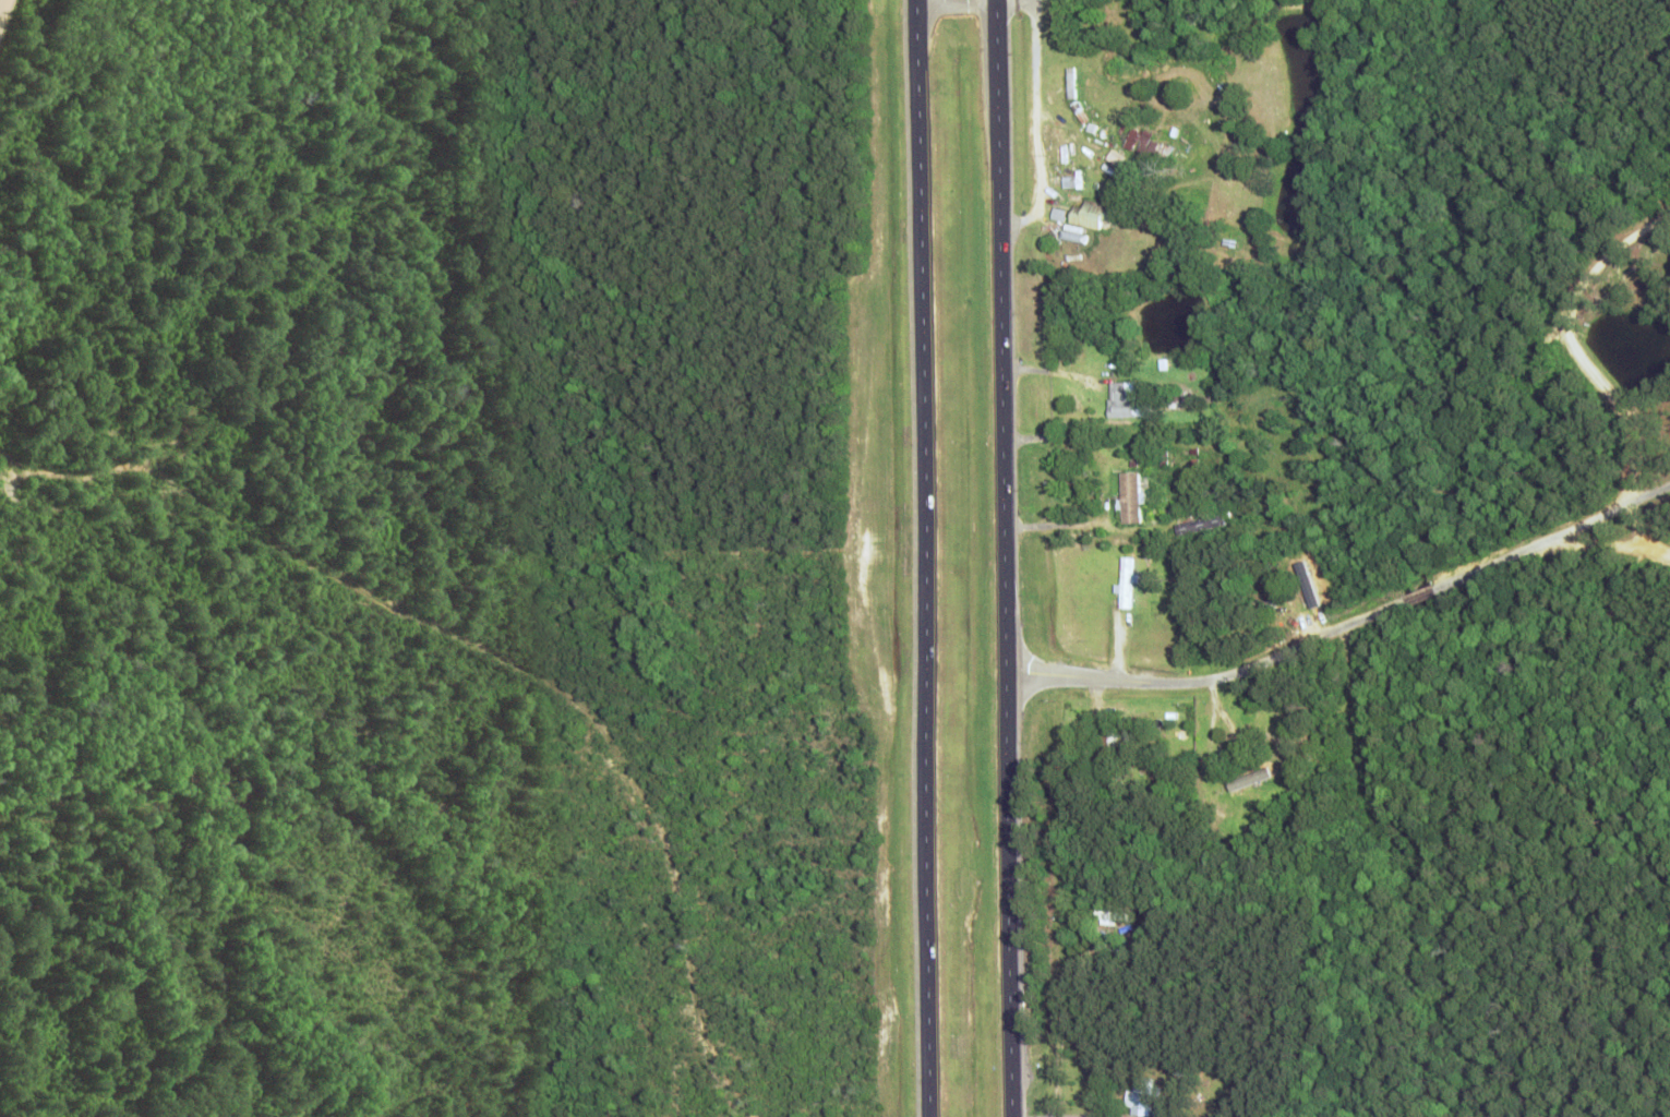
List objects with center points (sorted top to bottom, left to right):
road: (10, 23)
building: (1139, 136)
building: (1092, 214)
road: (1564, 339)
building: (1118, 400)
building: (1128, 496)
building: (1199, 524)
road: (1646, 529)
road: (921, 558)
road: (1000, 558)
building: (1122, 582)
building: (1309, 596)
road: (1346, 627)
building: (1107, 734)
building: (1137, 1096)

